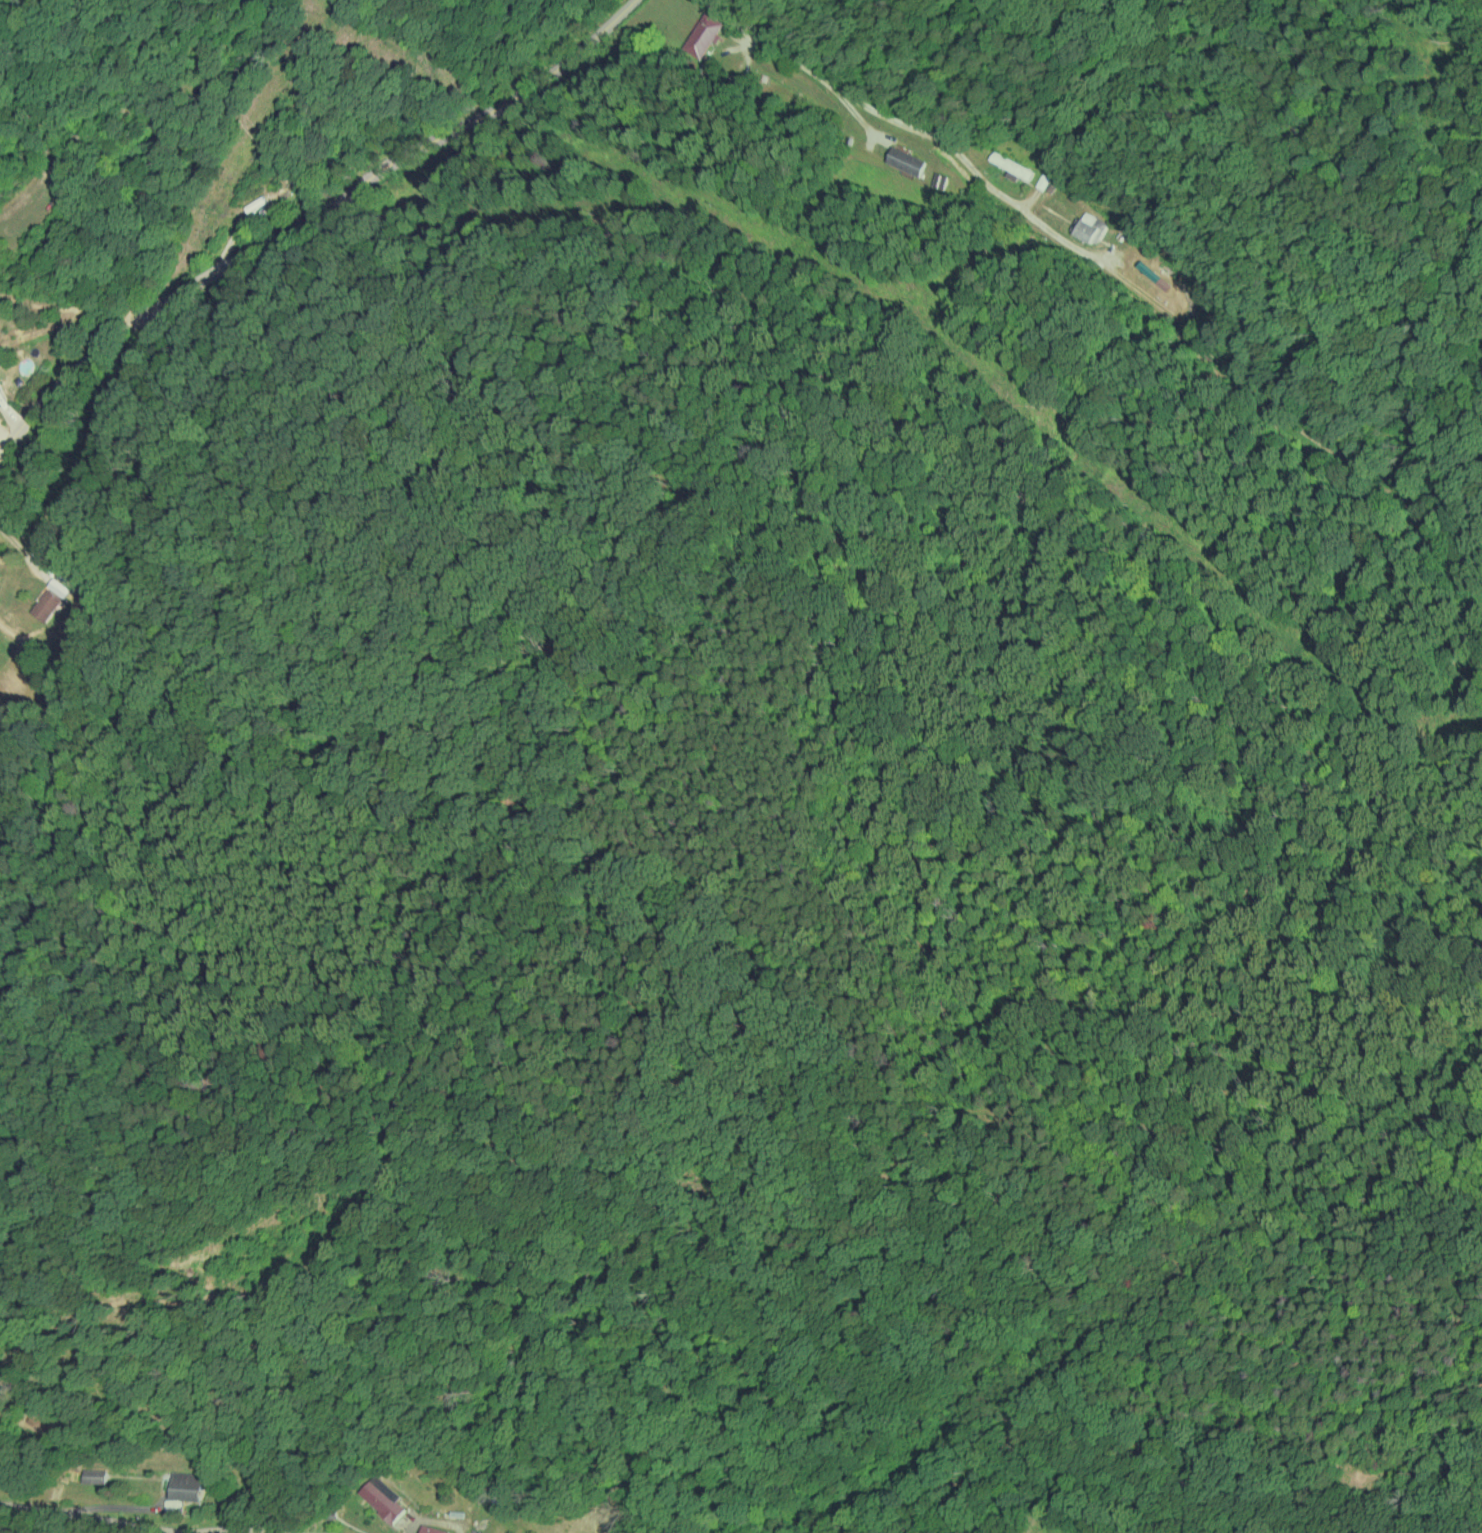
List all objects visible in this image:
building: (703, 35)
building: (905, 160)
building: (1011, 165)
road: (300, 221)
building: (1088, 226)
road: (1114, 268)
building: (46, 605)
building: (95, 1476)
building: (186, 1486)
building: (383, 1498)
road: (187, 1501)
building: (432, 1530)

